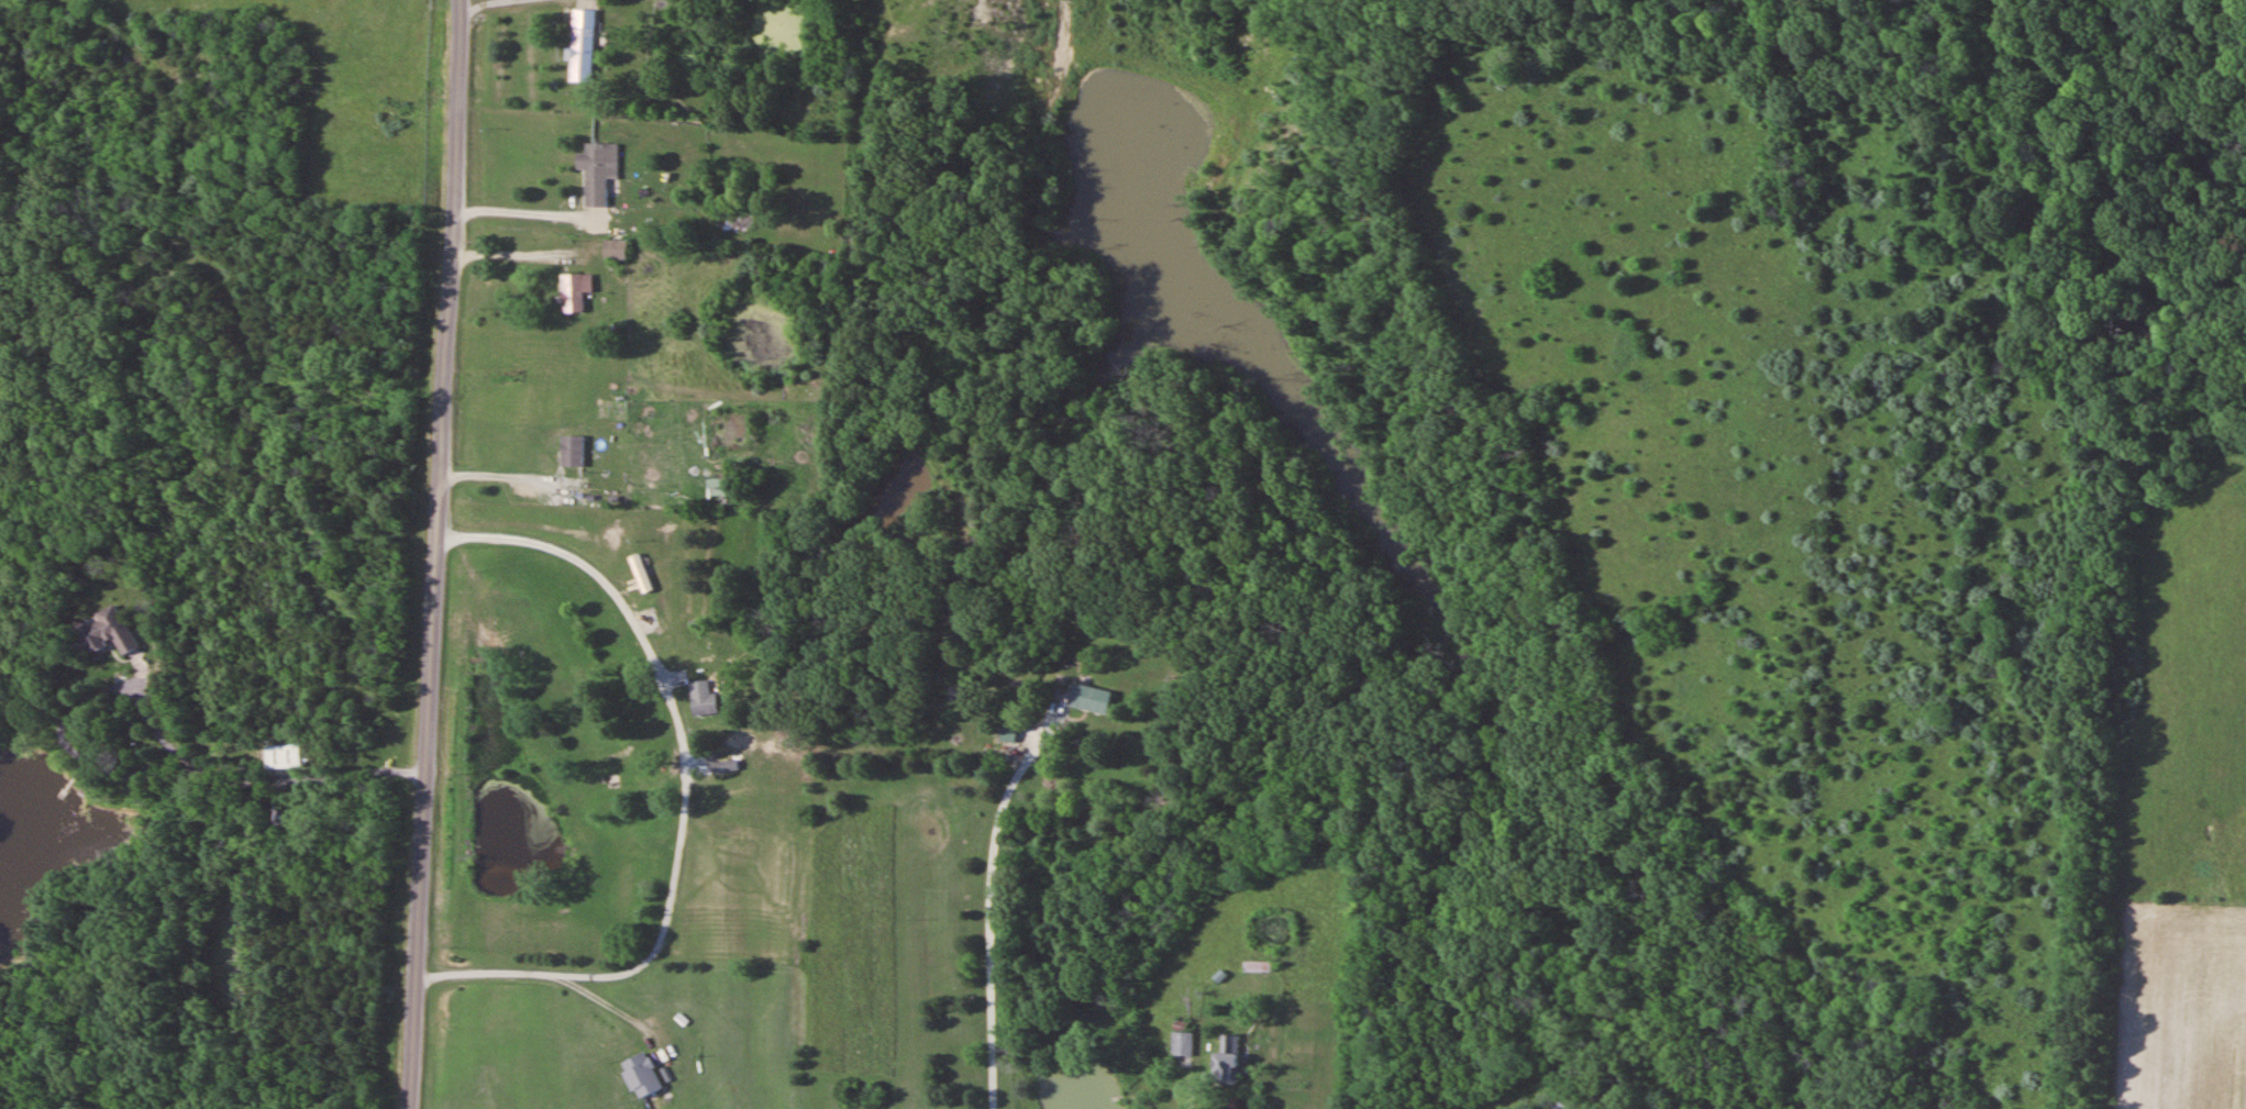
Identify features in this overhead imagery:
building: (583, 45)
building: (598, 181)
building: (612, 251)
building: (574, 292)
building: (572, 451)
road: (434, 554)
building: (640, 574)
building: (111, 632)
building: (702, 698)
building: (1092, 699)
road: (150, 721)
building: (1009, 734)
building: (286, 757)
building: (726, 766)
road: (684, 792)
road: (988, 919)
building: (1259, 967)
building: (1184, 1044)
building: (1228, 1062)
building: (640, 1075)
road: (1187, 1084)
road: (1457, 1093)

